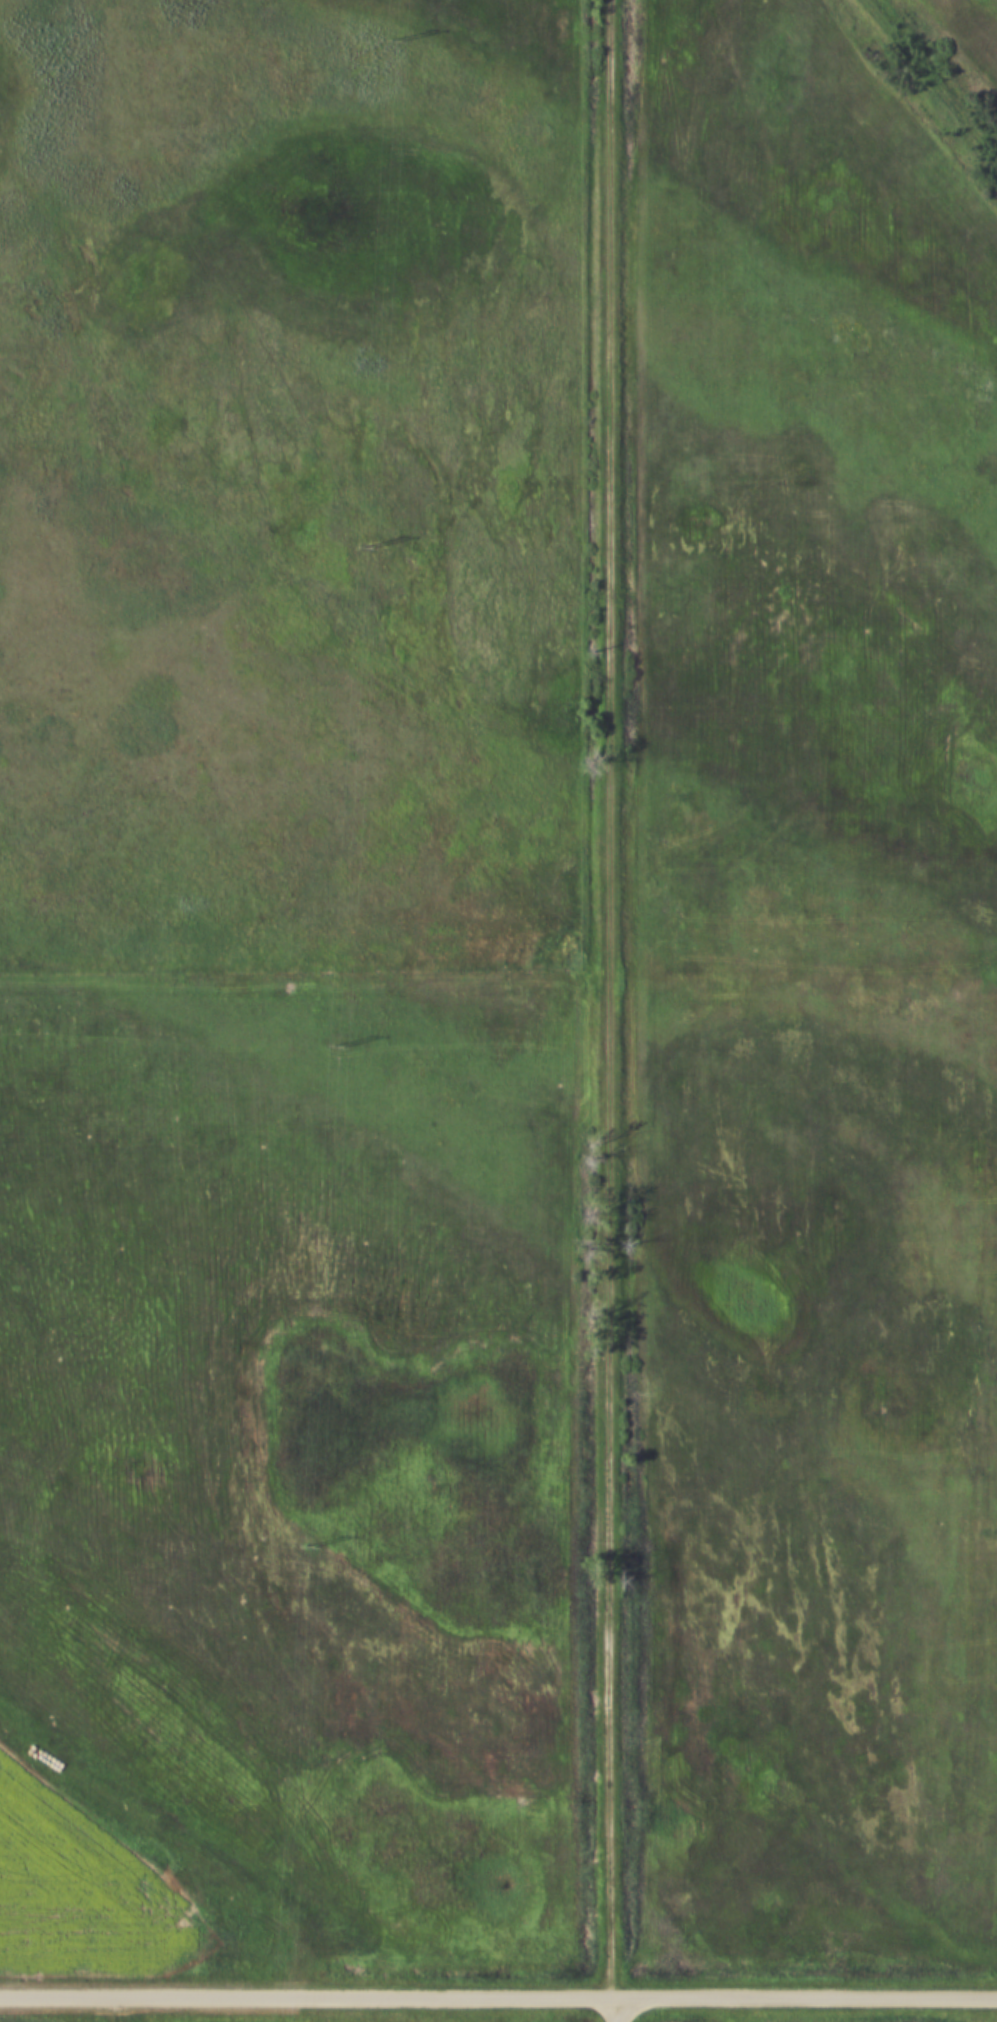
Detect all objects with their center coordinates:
power tower: (393, 40)
power tower: (368, 548)
road: (606, 998)
power tower: (340, 1047)
power tower: (310, 1547)
road: (498, 1996)
road: (609, 2009)

